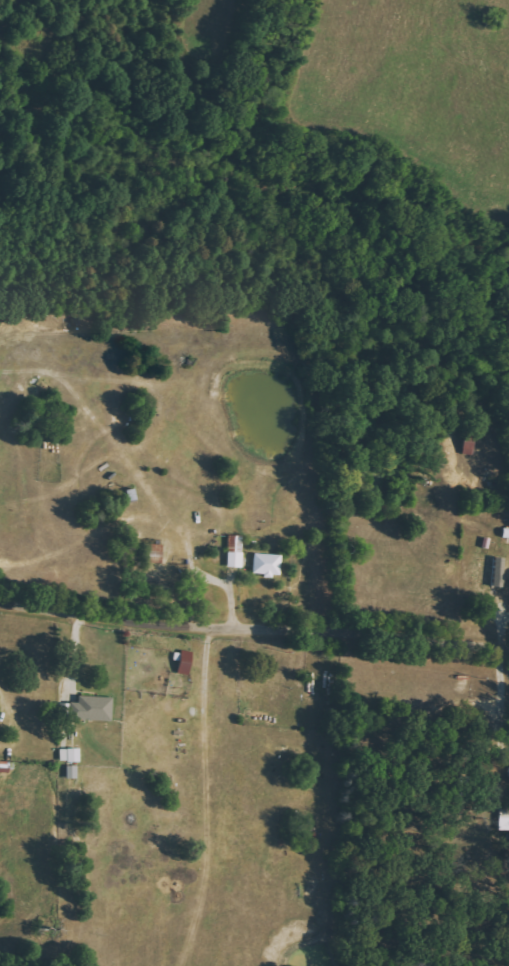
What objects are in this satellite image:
building: (235, 550)
building: (153, 553)
building: (267, 564)
building: (498, 572)
building: (487, 608)
road: (254, 628)
building: (185, 662)
building: (90, 709)
building: (73, 755)
building: (4, 766)
building: (72, 772)

